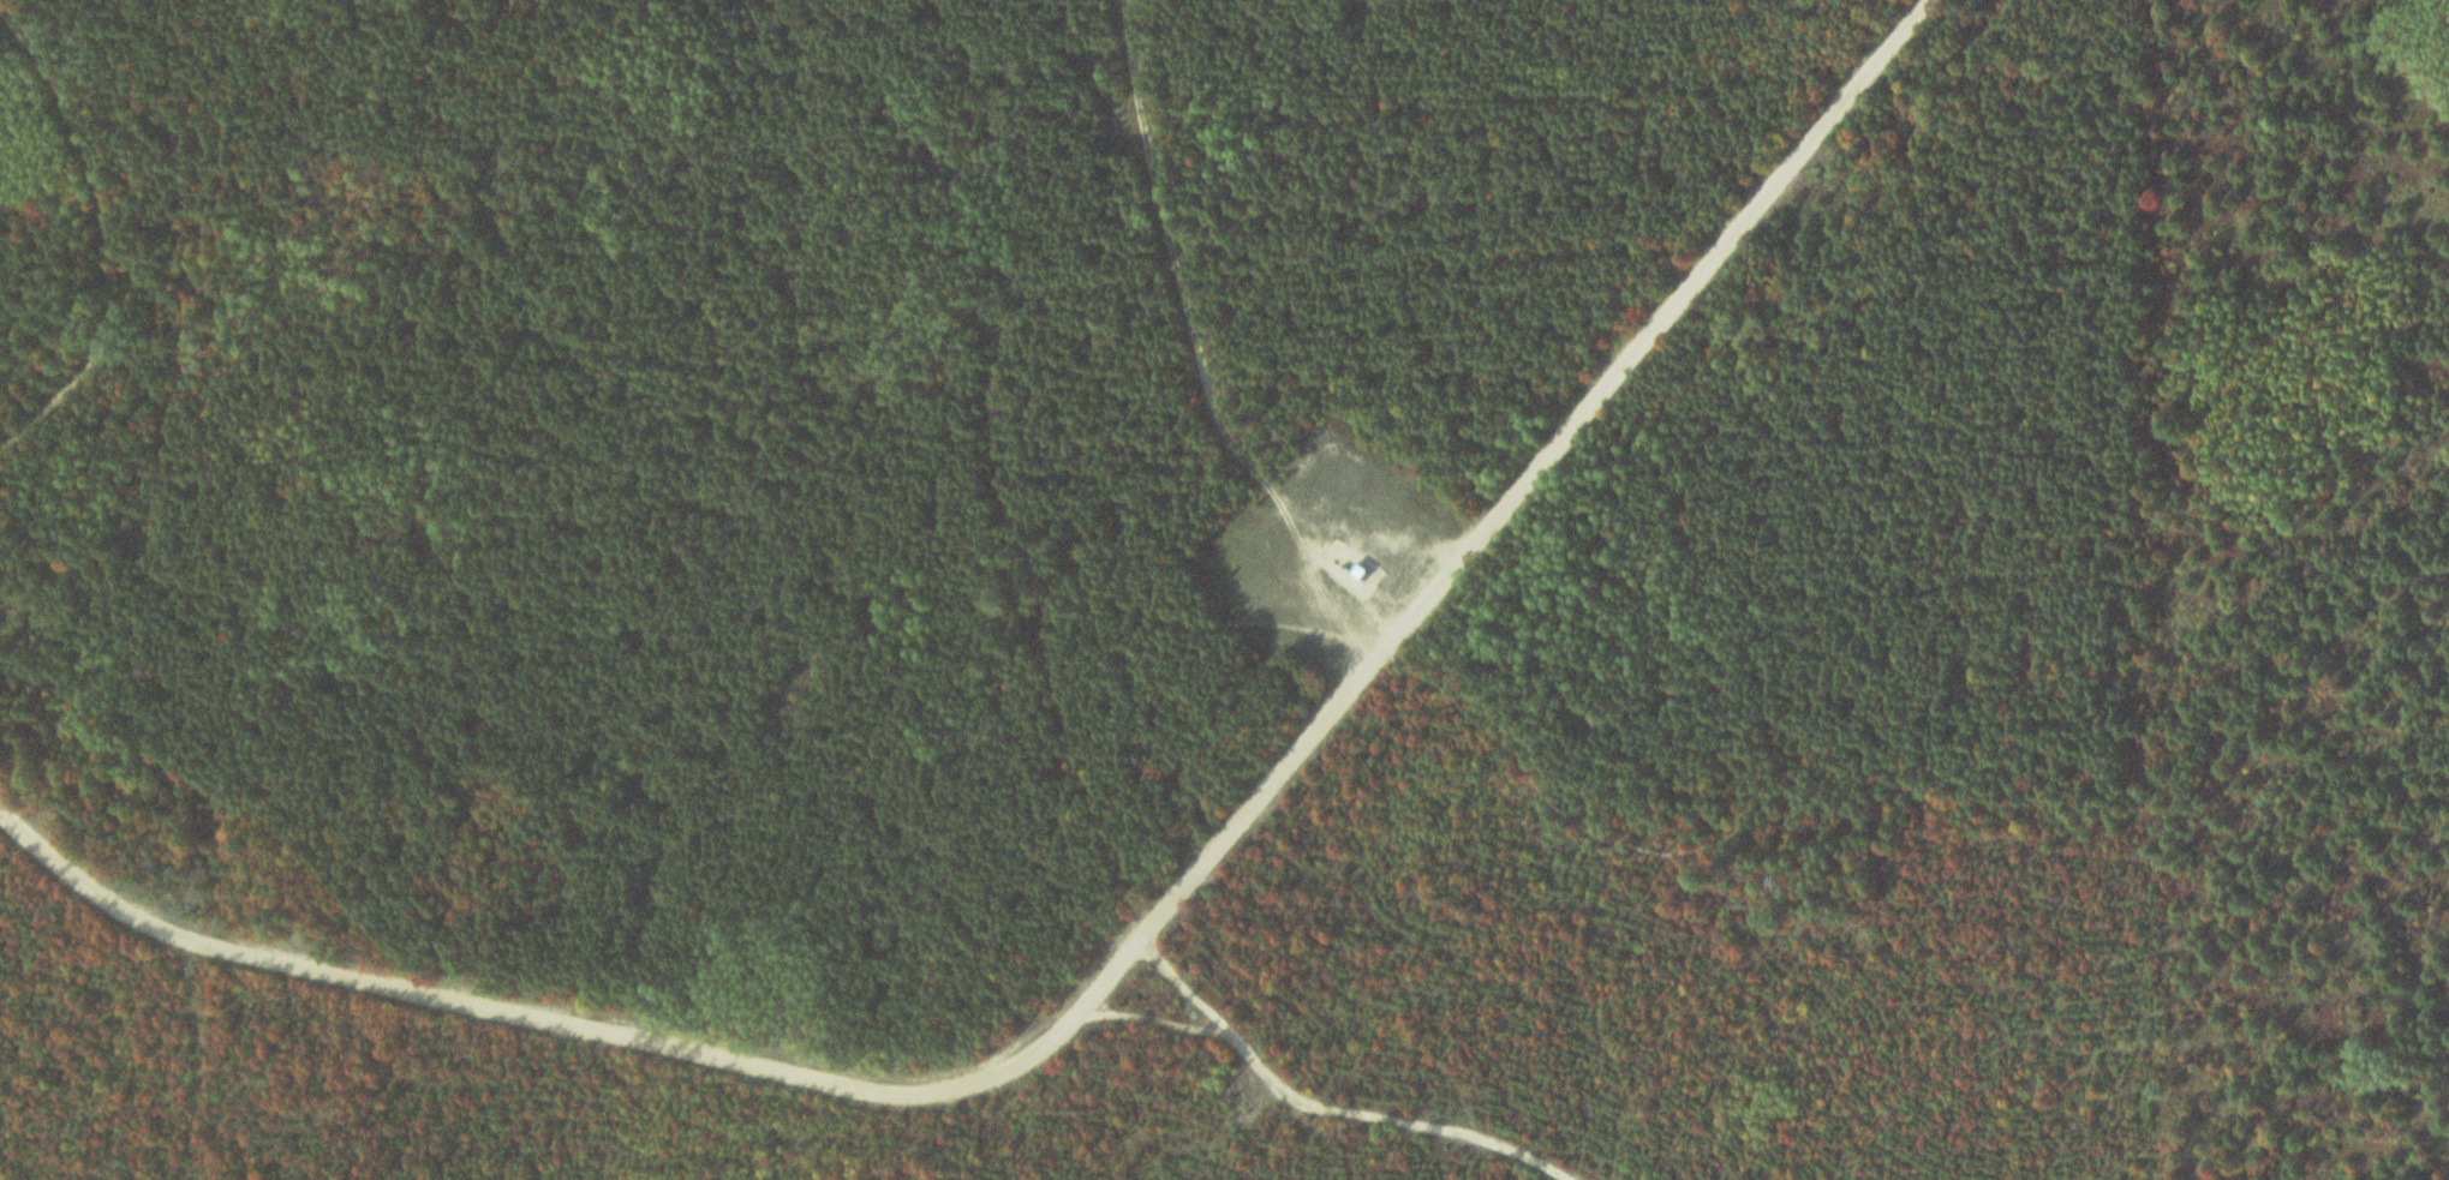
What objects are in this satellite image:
road: (98, 236)
road: (1208, 341)
petroleum well: (1338, 570)
road: (1507, 751)
road: (1135, 942)
road: (1314, 1106)

